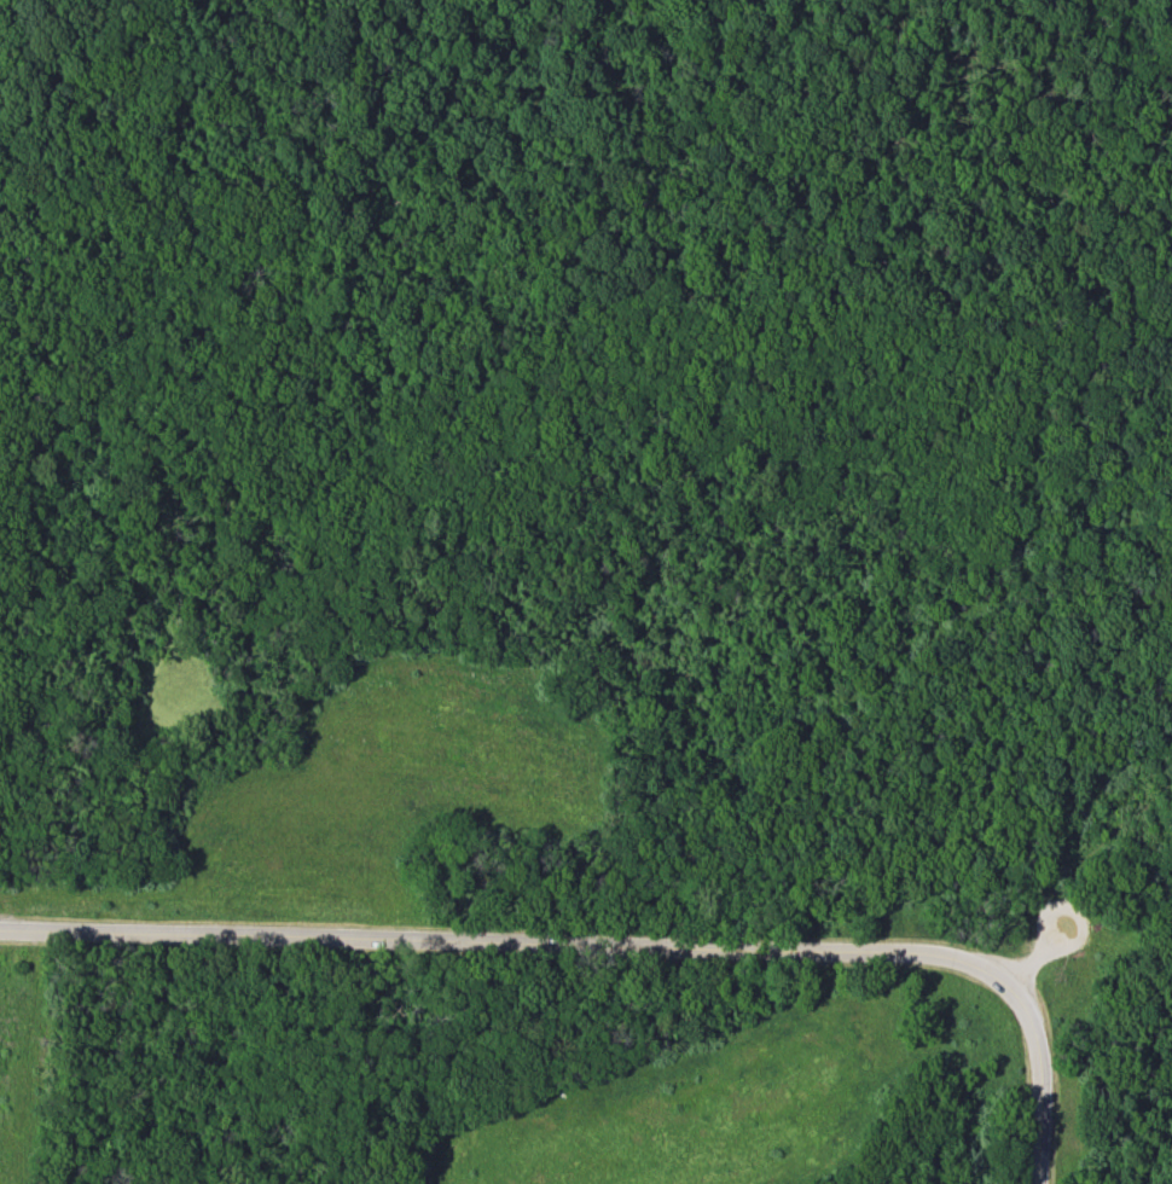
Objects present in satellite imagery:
road: (592, 127)
park: (586, 592)
road: (1074, 635)
road: (1161, 691)
road: (1161, 707)
road: (1032, 793)
parking lot: (1058, 922)
road: (614, 939)
road: (1026, 963)

